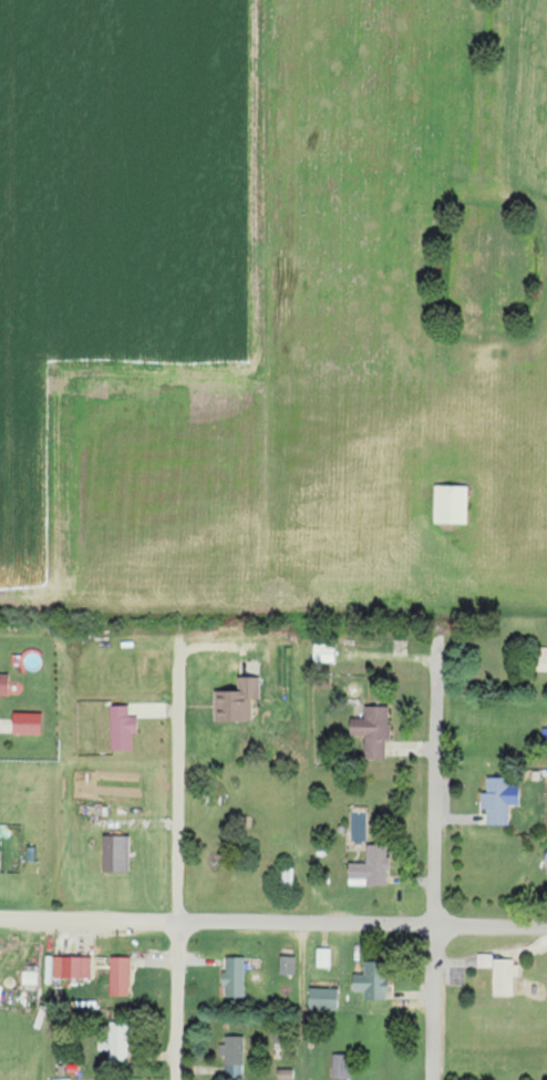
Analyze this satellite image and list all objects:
building: (451, 504)
building: (323, 652)
building: (540, 662)
building: (3, 685)
building: (236, 700)
building: (25, 723)
building: (121, 728)
building: (372, 730)
building: (544, 737)
road: (179, 779)
building: (498, 800)
building: (115, 853)
building: (546, 856)
building: (370, 867)
road: (435, 868)
building: (285, 875)
road: (272, 923)
building: (323, 958)
building: (287, 965)
building: (72, 967)
building: (499, 973)
building: (120, 976)
building: (234, 977)
building: (30, 979)
building: (371, 980)
building: (322, 998)
road: (179, 1000)
building: (115, 1042)
building: (233, 1057)
building: (341, 1067)

